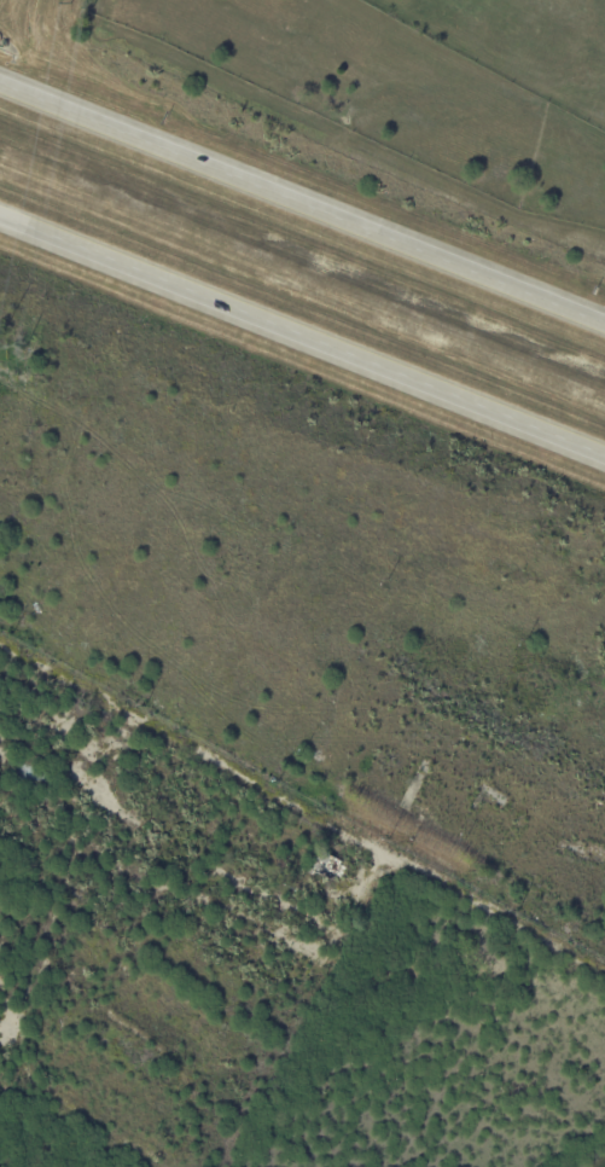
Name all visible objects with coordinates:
road: (302, 204)
road: (302, 344)
building: (41, 757)
road: (302, 814)
building: (325, 865)

